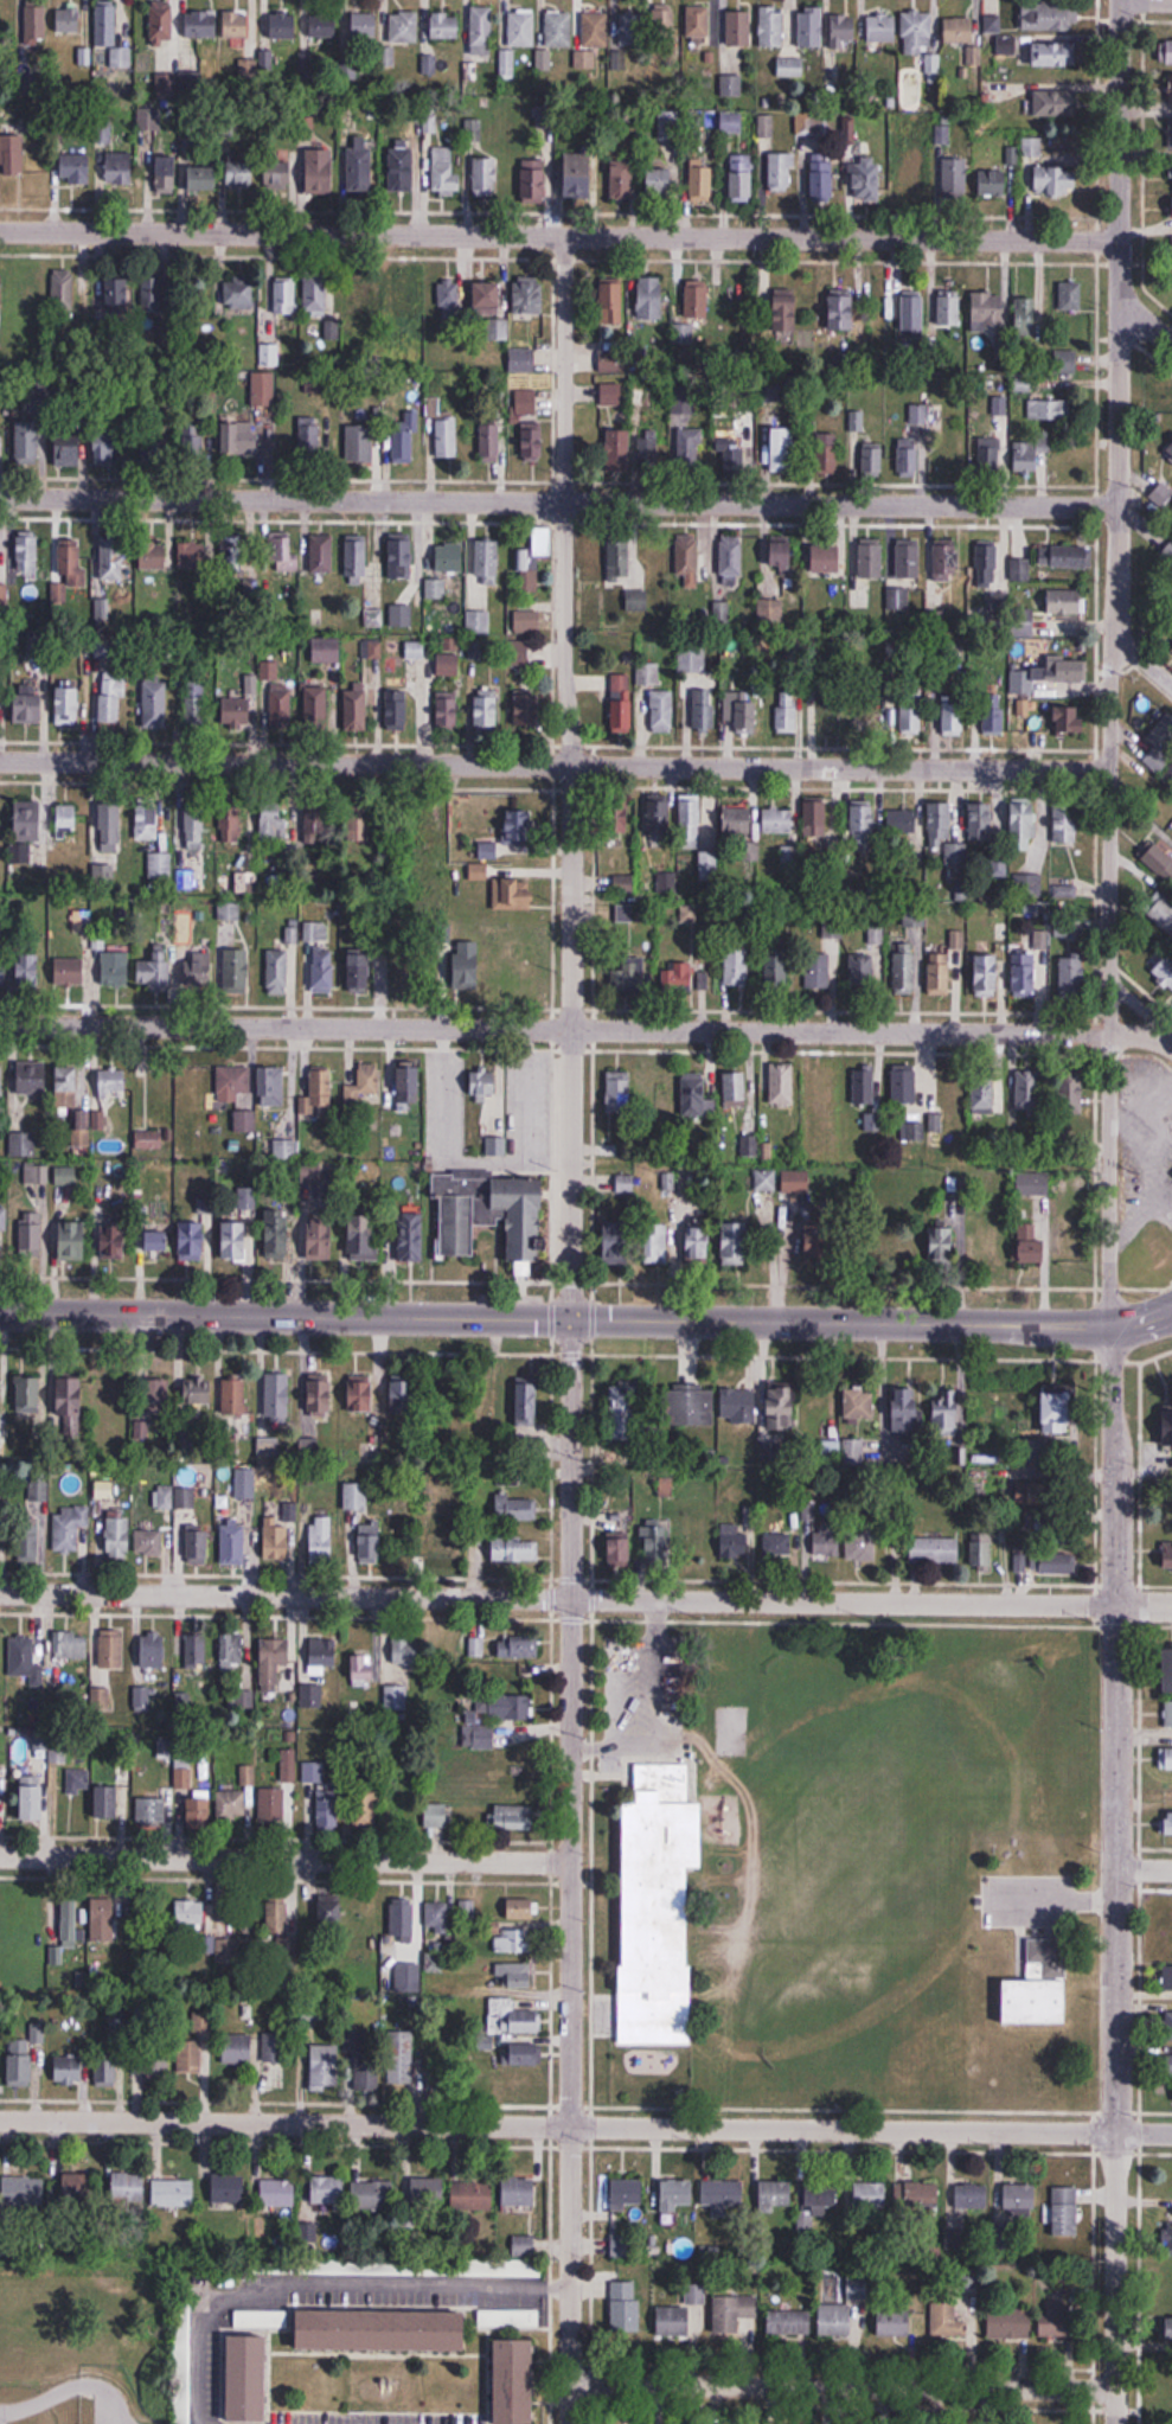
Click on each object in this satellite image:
road: (1147, 0)
building: (1050, 17)
building: (68, 20)
building: (161, 21)
building: (36, 24)
building: (698, 24)
building: (105, 25)
building: (201, 25)
building: (238, 25)
building: (283, 26)
building: (322, 26)
building: (386, 26)
building: (444, 26)
building: (664, 26)
building: (771, 26)
building: (520, 27)
building: (843, 27)
building: (880, 27)
building: (557, 28)
building: (738, 28)
building: (811, 30)
building: (481, 31)
building: (630, 31)
building: (917, 33)
building: (963, 37)
building: (593, 39)
building: (1007, 44)
building: (1167, 52)
building: (1053, 53)
building: (388, 57)
building: (790, 68)
building: (192, 84)
building: (730, 85)
building: (1170, 88)
building: (1055, 103)
building: (542, 117)
building: (731, 122)
building: (668, 126)
building: (766, 129)
building: (12, 154)
building: (401, 165)
building: (119, 167)
building: (1171, 167)
building: (75, 168)
building: (360, 168)
building: (780, 171)
building: (320, 172)
building: (241, 173)
building: (444, 173)
building: (166, 174)
building: (277, 174)
building: (485, 175)
building: (578, 175)
building: (741, 177)
building: (867, 177)
building: (203, 178)
building: (912, 178)
building: (954, 178)
building: (533, 179)
building: (822, 179)
building: (621, 180)
building: (1056, 180)
building: (702, 181)
building: (660, 183)
building: (993, 183)
building: (1171, 209)
road: (559, 236)
building: (1171, 239)
building: (1, 289)
building: (63, 289)
building: (154, 290)
building: (117, 292)
building: (30, 294)
building: (237, 294)
building: (405, 294)
building: (315, 295)
building: (529, 295)
building: (1070, 295)
building: (284, 296)
building: (358, 296)
building: (487, 298)
building: (651, 298)
building: (697, 299)
building: (611, 300)
building: (449, 301)
building: (949, 307)
building: (987, 308)
building: (841, 309)
building: (786, 311)
building: (912, 315)
building: (1023, 316)
road: (1146, 322)
building: (681, 333)
building: (268, 356)
building: (521, 359)
building: (611, 359)
building: (1065, 360)
road: (564, 371)
building: (263, 389)
building: (610, 394)
building: (641, 396)
building: (526, 402)
building: (999, 404)
building: (1050, 409)
building: (918, 412)
building: (309, 435)
building: (244, 437)
building: (447, 437)
building: (404, 439)
building: (30, 441)
building: (193, 441)
building: (359, 441)
building: (532, 441)
building: (104, 446)
building: (153, 446)
building: (619, 448)
building: (648, 448)
building: (1170, 448)
building: (687, 449)
building: (783, 449)
building: (1036, 449)
building: (69, 450)
building: (732, 453)
building: (826, 454)
building: (988, 454)
building: (908, 458)
building: (872, 460)
road: (558, 505)
building: (27, 551)
building: (1167, 552)
building: (286, 554)
building: (322, 555)
building: (781, 555)
building: (191, 556)
building: (111, 557)
building: (153, 557)
building: (233, 557)
building: (987, 557)
building: (1065, 557)
building: (449, 558)
building: (827, 558)
building: (871, 558)
building: (908, 558)
building: (944, 558)
building: (356, 559)
building: (533, 559)
building: (401, 561)
building: (619, 561)
building: (687, 561)
building: (730, 561)
building: (486, 562)
building: (1020, 569)
building: (435, 590)
building: (1168, 597)
building: (897, 600)
building: (636, 602)
building: (1065, 602)
building: (769, 610)
building: (399, 618)
building: (373, 619)
building: (527, 622)
building: (1023, 623)
building: (327, 647)
building: (372, 648)
building: (422, 658)
building: (691, 658)
road: (1142, 660)
building: (646, 673)
building: (1048, 676)
building: (111, 702)
building: (154, 703)
building: (194, 703)
building: (621, 703)
building: (30, 705)
building: (68, 705)
building: (316, 706)
building: (281, 708)
building: (356, 708)
building: (487, 709)
building: (1024, 709)
building: (397, 711)
building: (447, 711)
building: (661, 711)
building: (700, 711)
building: (787, 711)
building: (236, 712)
building: (527, 712)
building: (739, 714)
building: (953, 714)
building: (993, 714)
building: (827, 716)
building: (911, 717)
building: (865, 721)
building: (1070, 721)
building: (1160, 744)
road: (555, 766)
building: (691, 818)
building: (814, 818)
building: (617, 819)
building: (659, 819)
building: (777, 820)
building: (737, 821)
building: (1024, 821)
building: (1065, 821)
building: (28, 823)
building: (65, 823)
building: (147, 823)
building: (902, 823)
building: (981, 823)
building: (273, 824)
building: (231, 825)
building: (316, 825)
building: (109, 827)
building: (194, 827)
building: (518, 829)
building: (863, 829)
building: (942, 830)
building: (160, 865)
building: (187, 878)
building: (623, 883)
building: (1027, 885)
building: (513, 894)
building: (623, 913)
building: (690, 913)
building: (1163, 914)
building: (832, 927)
building: (958, 940)
building: (465, 965)
building: (776, 967)
building: (115, 968)
building: (904, 968)
building: (1, 970)
building: (155, 970)
building: (197, 970)
building: (737, 970)
building: (818, 971)
building: (69, 972)
building: (236, 972)
building: (277, 972)
building: (324, 972)
building: (360, 972)
building: (27, 973)
building: (940, 973)
building: (1163, 973)
building: (632, 974)
building: (1024, 974)
building: (863, 976)
building: (987, 976)
building: (689, 977)
building: (1071, 978)
road: (589, 1029)
building: (31, 1081)
building: (0, 1082)
building: (232, 1083)
building: (111, 1085)
building: (483, 1085)
building: (781, 1085)
building: (904, 1085)
building: (364, 1086)
building: (408, 1086)
building: (863, 1086)
building: (68, 1087)
building: (271, 1087)
building: (320, 1087)
building: (819, 1087)
building: (651, 1089)
building: (735, 1089)
building: (947, 1089)
building: (1026, 1089)
building: (188, 1091)
building: (619, 1091)
building: (696, 1096)
building: (1071, 1096)
building: (982, 1098)
building: (244, 1121)
building: (81, 1130)
building: (148, 1139)
building: (206, 1146)
building: (284, 1149)
building: (312, 1171)
building: (36, 1173)
building: (108, 1179)
building: (795, 1181)
building: (770, 1182)
building: (1033, 1183)
building: (901, 1203)
road: (1109, 1213)
building: (491, 1215)
building: (2, 1219)
building: (31, 1232)
building: (277, 1233)
building: (411, 1234)
building: (364, 1237)
building: (985, 1237)
building: (192, 1239)
building: (321, 1239)
building: (818, 1240)
building: (942, 1240)
building: (72, 1241)
building: (113, 1241)
building: (156, 1241)
building: (233, 1241)
building: (617, 1243)
building: (655, 1243)
building: (698, 1243)
building: (735, 1243)
building: (1031, 1243)
building: (884, 1245)
road: (556, 1319)
road: (1142, 1324)
building: (444, 1392)
building: (197, 1393)
building: (360, 1393)
building: (404, 1394)
building: (28, 1395)
building: (156, 1395)
building: (276, 1395)
building: (320, 1395)
building: (235, 1398)
building: (109, 1399)
building: (527, 1400)
building: (71, 1402)
building: (859, 1403)
building: (692, 1405)
building: (738, 1405)
building: (781, 1406)
building: (1058, 1409)
building: (946, 1411)
building: (625, 1412)
building: (905, 1413)
building: (1167, 1426)
road: (572, 1445)
building: (245, 1479)
building: (512, 1480)
building: (356, 1496)
building: (165, 1498)
building: (186, 1498)
building: (34, 1507)
building: (519, 1509)
building: (1171, 1511)
building: (69, 1527)
building: (1, 1531)
building: (117, 1535)
building: (436, 1535)
building: (321, 1539)
building: (827, 1539)
building: (277, 1540)
building: (734, 1541)
building: (369, 1542)
building: (658, 1542)
building: (148, 1543)
building: (777, 1543)
building: (232, 1544)
building: (862, 1544)
building: (198, 1546)
building: (514, 1548)
building: (980, 1548)
building: (620, 1549)
building: (935, 1550)
building: (1167, 1555)
building: (1052, 1563)
road: (585, 1600)
road: (653, 1617)
building: (70, 1644)
building: (476, 1646)
building: (518, 1646)
building: (153, 1650)
building: (231, 1650)
building: (194, 1651)
building: (324, 1652)
building: (24, 1661)
building: (273, 1661)
building: (105, 1663)
building: (361, 1667)
building: (1167, 1669)
building: (397, 1670)
building: (141, 1699)
parking lot: (640, 1701)
building: (1168, 1713)
building: (492, 1716)
building: (1166, 1758)
building: (313, 1771)
building: (77, 1780)
building: (278, 1793)
building: (32, 1797)
building: (402, 1799)
building: (107, 1802)
building: (194, 1802)
building: (231, 1804)
building: (328, 1806)
building: (365, 1806)
building: (150, 1811)
building: (436, 1815)
building: (514, 1817)
building: (1168, 1822)
road: (286, 1860)
road: (1145, 1868)
building: (658, 1907)
building: (520, 1908)
building: (466, 1910)
building: (190, 1912)
building: (329, 1913)
building: (277, 1915)
building: (436, 1917)
building: (1168, 1917)
building: (103, 1918)
building: (402, 1921)
building: (69, 1923)
building: (513, 1942)
building: (434, 1963)
building: (513, 1976)
building: (1167, 1977)
building: (1036, 1998)
building: (511, 2017)
building: (203, 2022)
building: (1168, 2026)
building: (274, 2048)
building: (239, 2049)
building: (524, 2054)
building: (188, 2057)
building: (402, 2058)
building: (150, 2061)
building: (19, 2062)
building: (1171, 2065)
building: (325, 2066)
building: (107, 2068)
building: (69, 2071)
building: (367, 2071)
building: (523, 2084)
road: (585, 2126)
building: (79, 2187)
building: (128, 2187)
building: (229, 2189)
building: (23, 2190)
building: (327, 2190)
building: (519, 2192)
building: (172, 2193)
building: (275, 2193)
building: (427, 2193)
building: (626, 2193)
building: (775, 2194)
building: (372, 2195)
building: (472, 2195)
building: (675, 2195)
building: (722, 2195)
building: (869, 2195)
building: (922, 2196)
building: (971, 2196)
building: (1019, 2200)
building: (816, 2201)
building: (1065, 2211)
building: (524, 2246)
building: (621, 2246)
road: (327, 2285)
building: (844, 2305)
building: (625, 2307)
building: (732, 2313)
building: (507, 2317)
building: (947, 2320)
building: (673, 2321)
building: (788, 2322)
building: (894, 2323)
building: (1010, 2323)
building: (1057, 2323)
building: (1166, 2327)
building: (382, 2332)
building: (181, 2341)
building: (248, 2380)
building: (515, 2381)
road: (840, 2388)
road: (570, 2404)
road: (1116, 2410)

